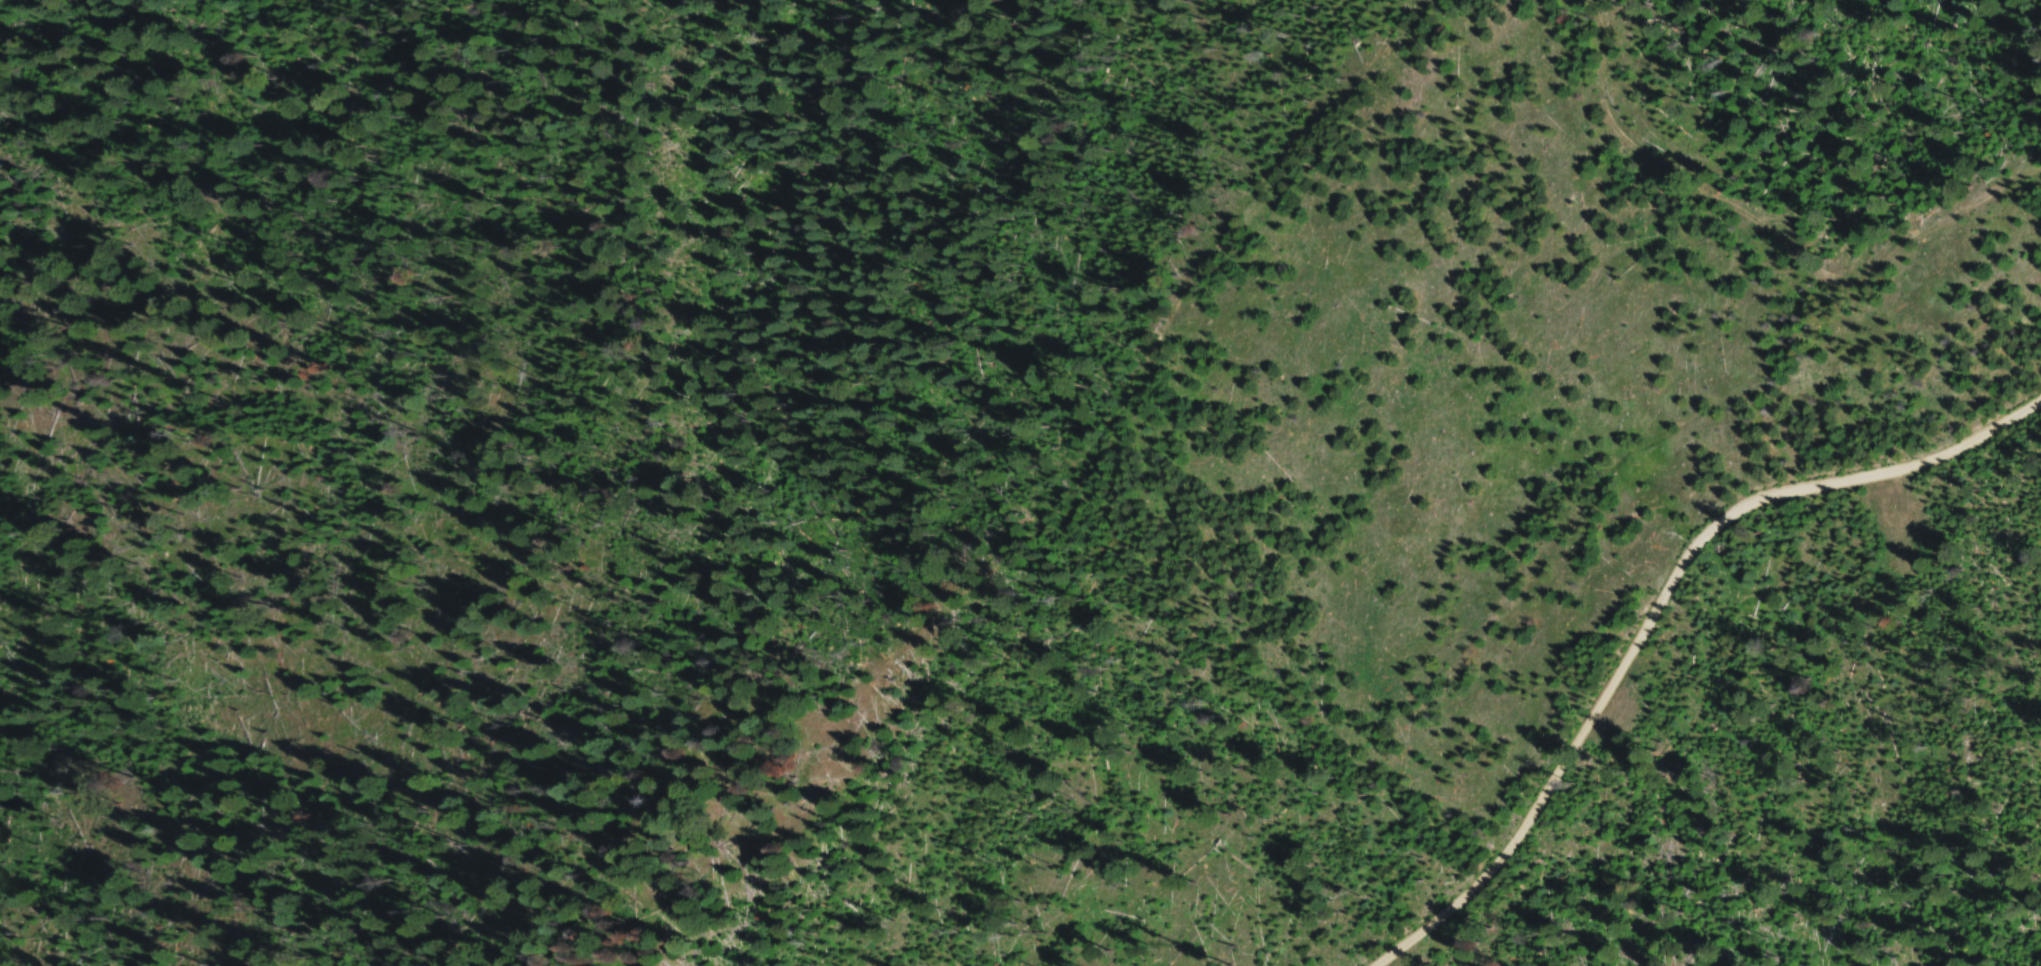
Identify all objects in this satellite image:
road: (1743, 235)

